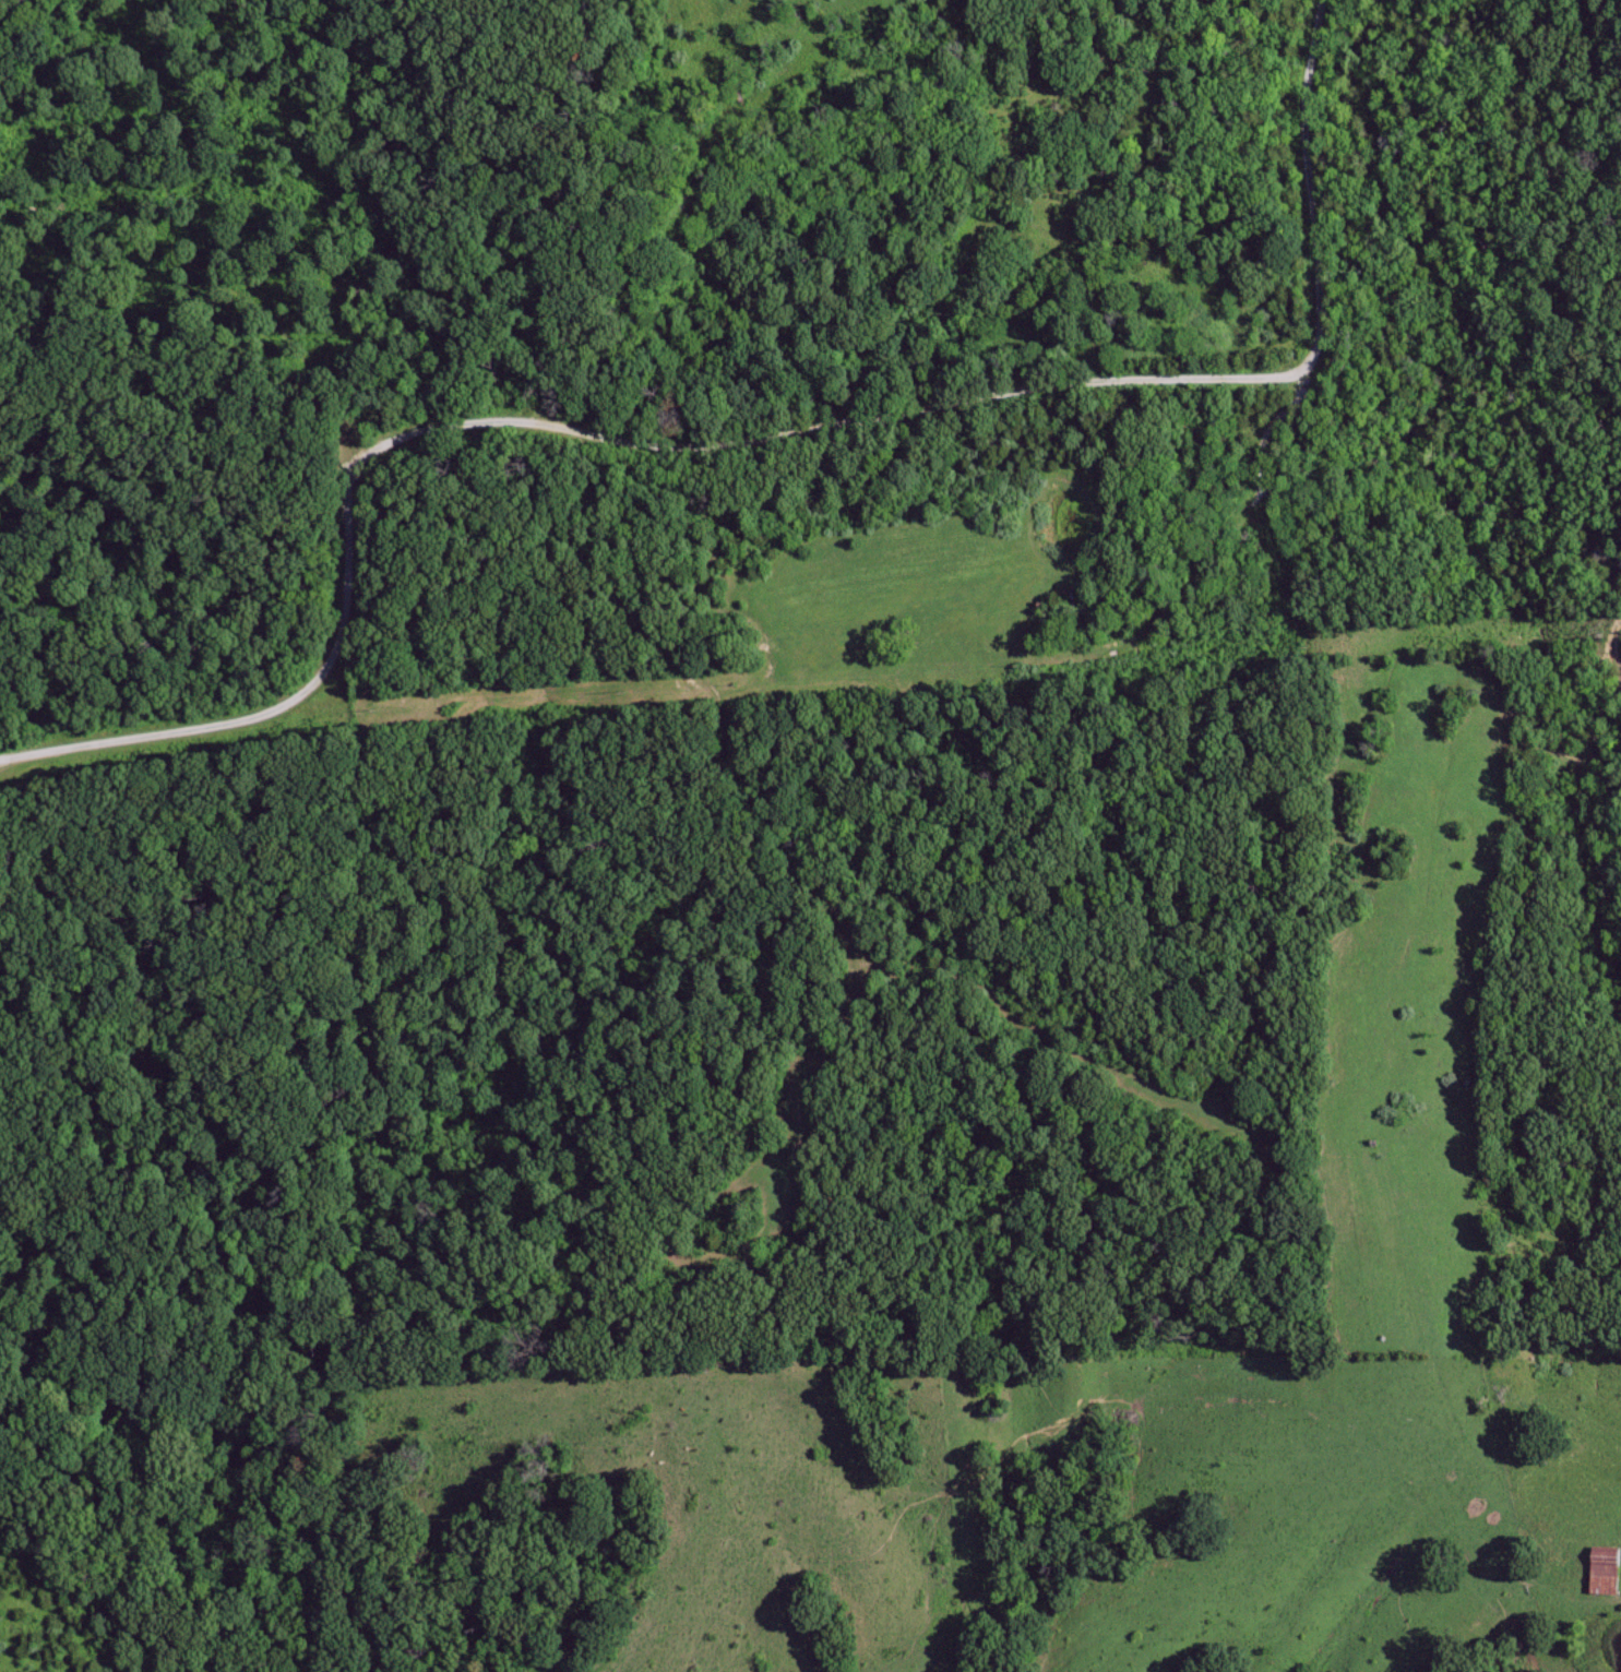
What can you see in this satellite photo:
road: (1049, 387)
road: (309, 685)
building: (1606, 1571)

